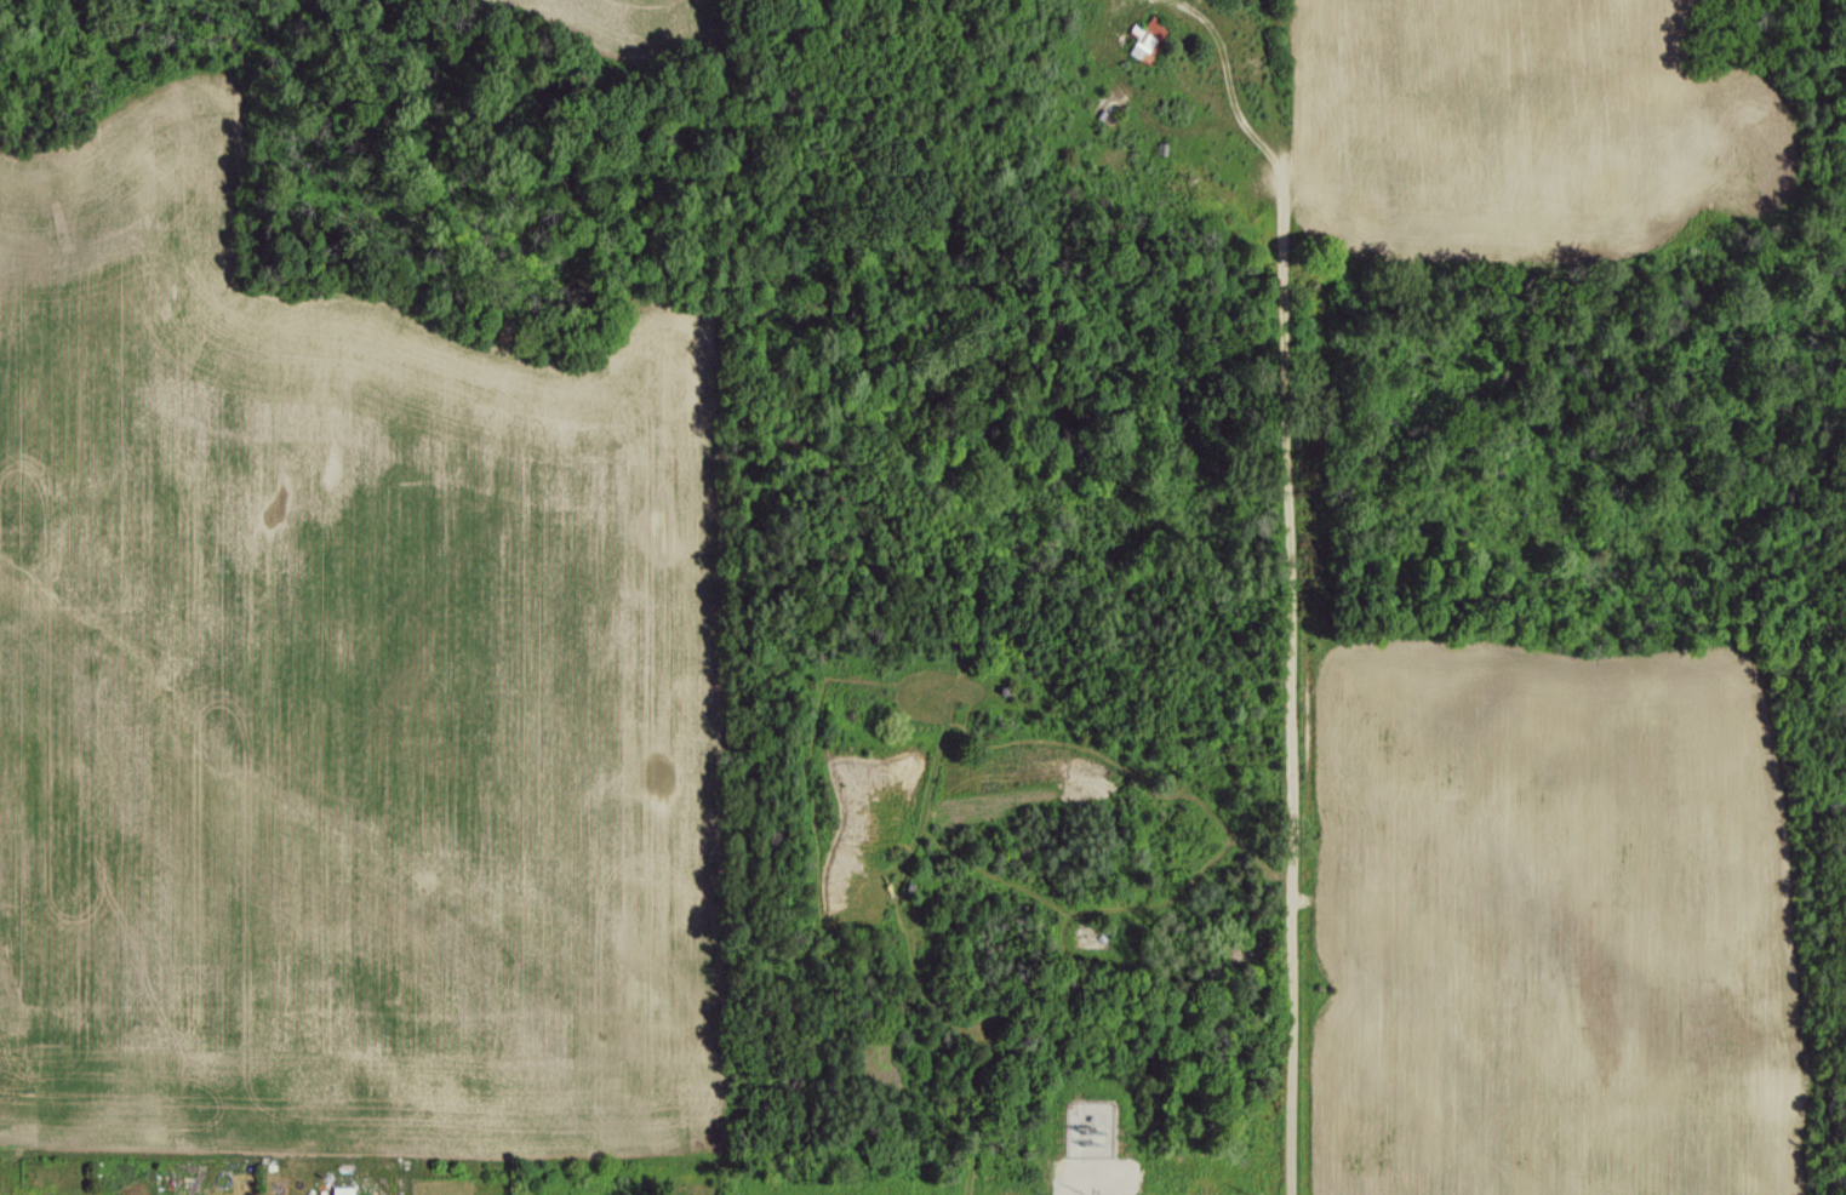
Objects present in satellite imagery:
building: (1147, 39)
road: (1284, 617)
building: (342, 1190)

